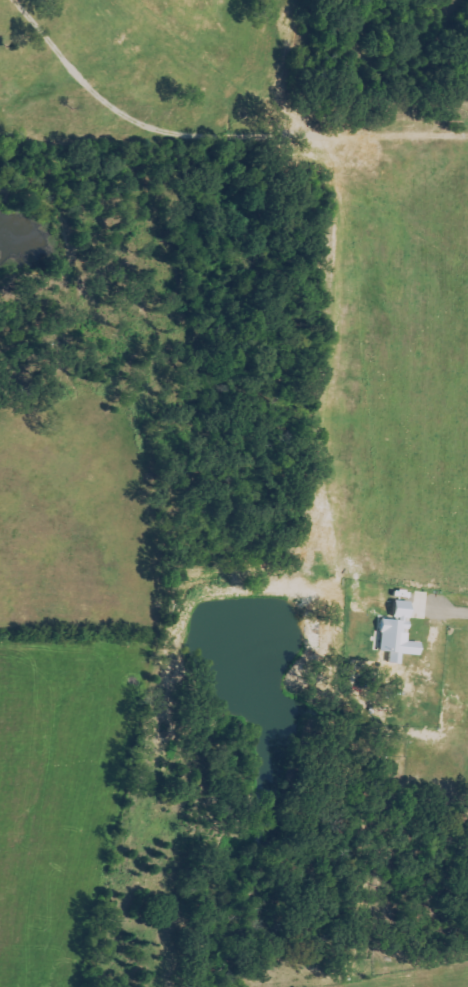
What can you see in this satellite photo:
building: (397, 633)

